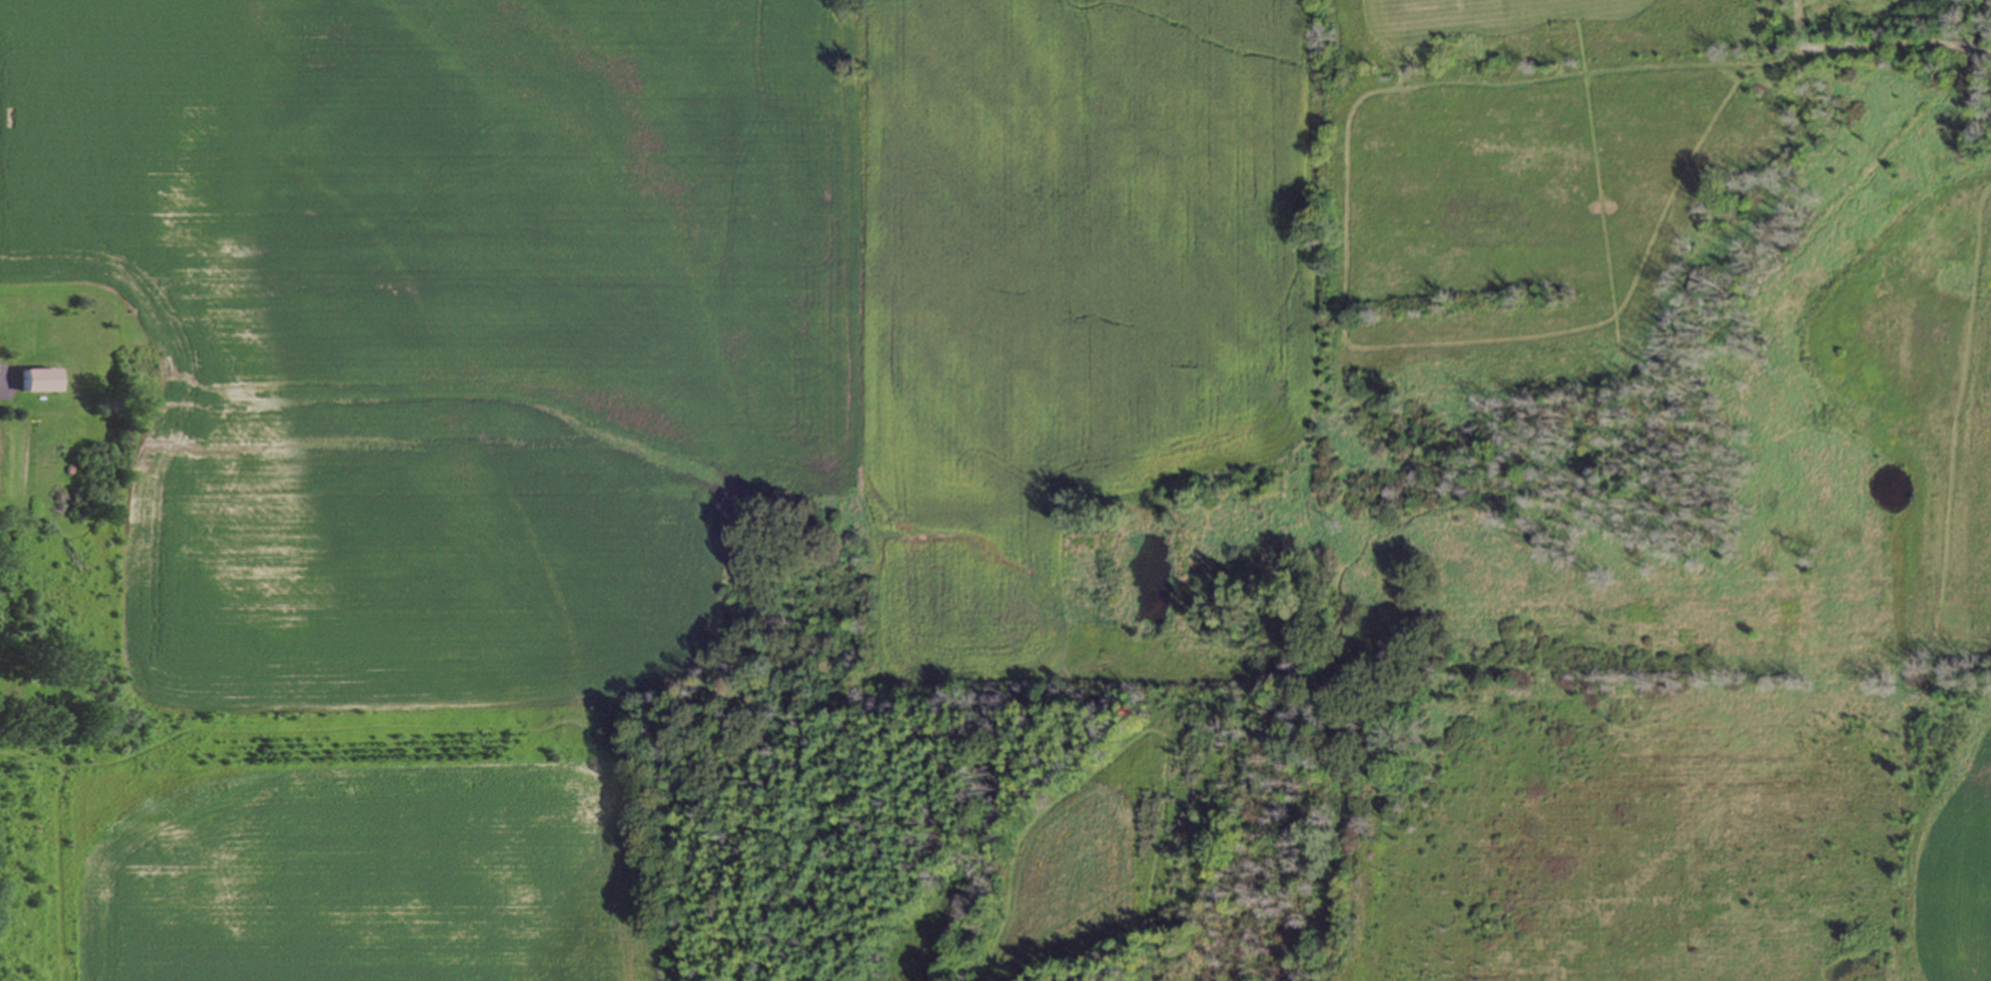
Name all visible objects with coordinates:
road: (2, 378)
building: (33, 379)

